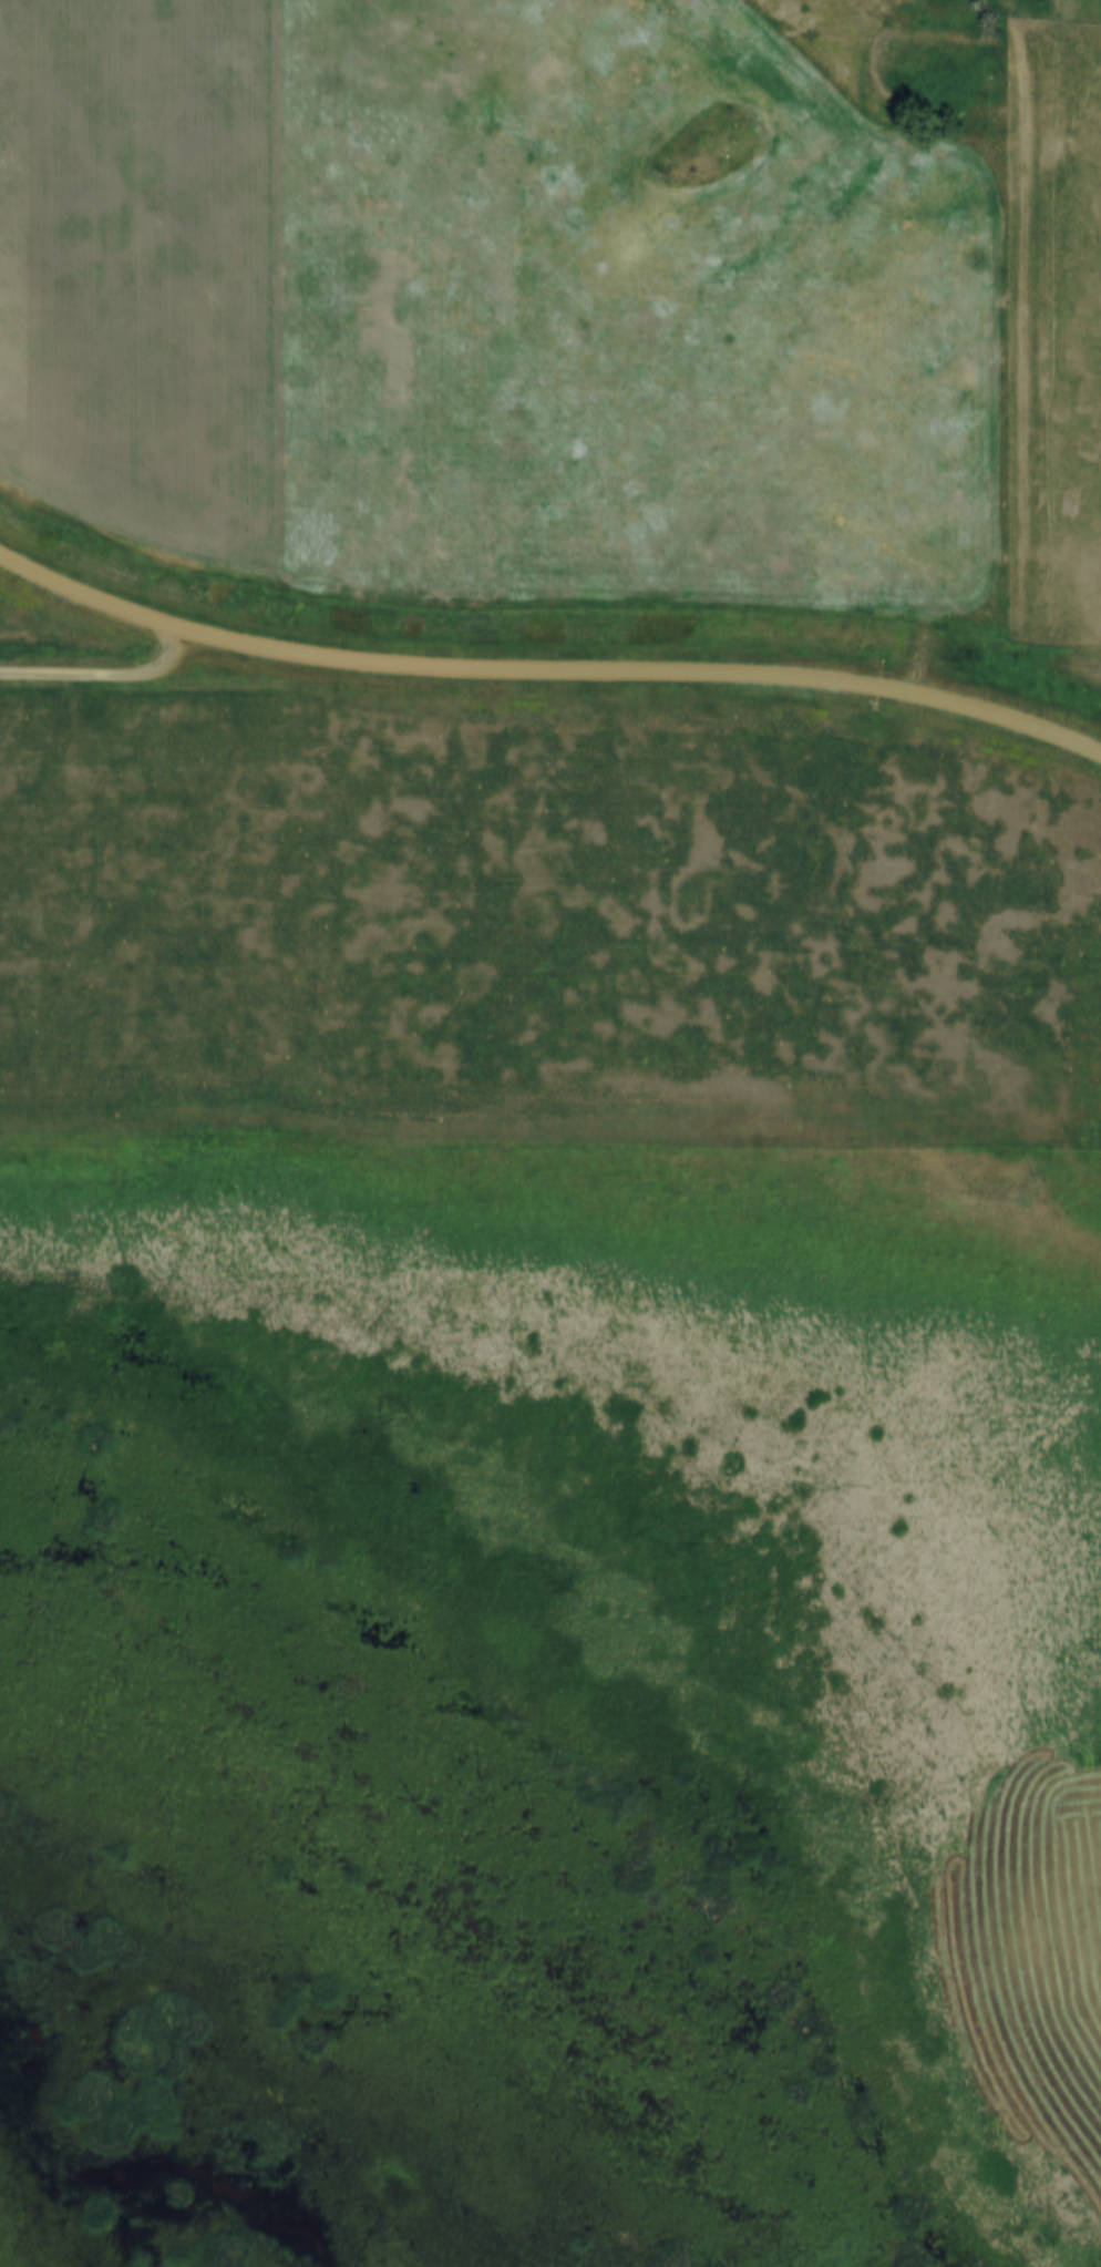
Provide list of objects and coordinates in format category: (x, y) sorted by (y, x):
road: (84, 594)
road: (642, 665)
road: (102, 670)

